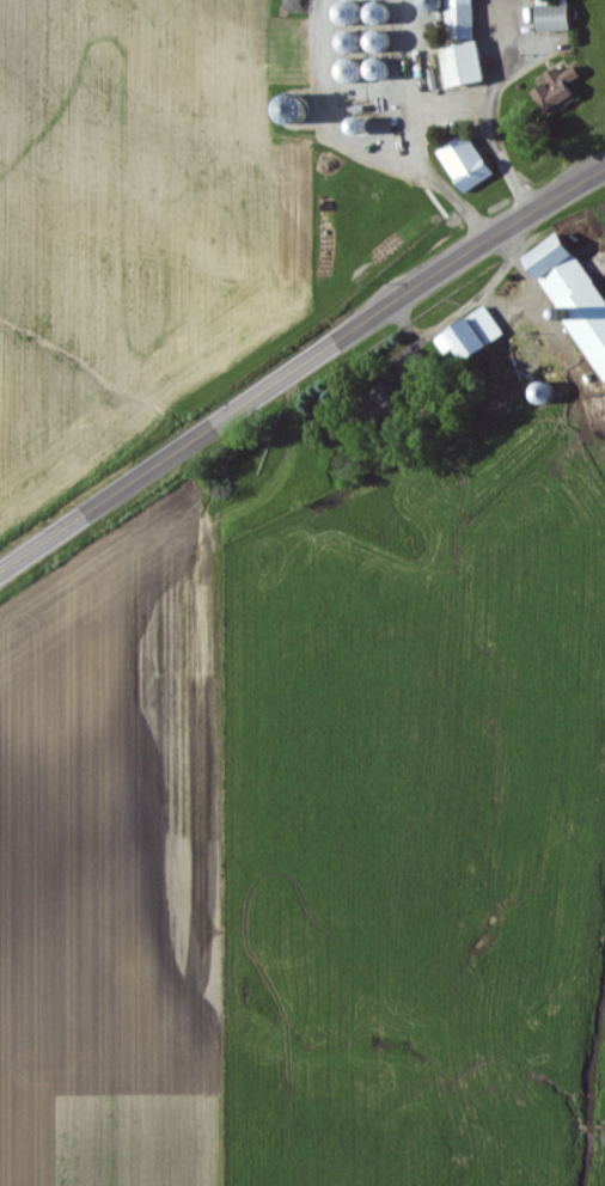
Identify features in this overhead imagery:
building: (560, 18)
building: (467, 20)
building: (471, 67)
building: (564, 92)
road: (427, 106)
building: (473, 166)
building: (576, 292)
building: (478, 338)
road: (298, 351)

